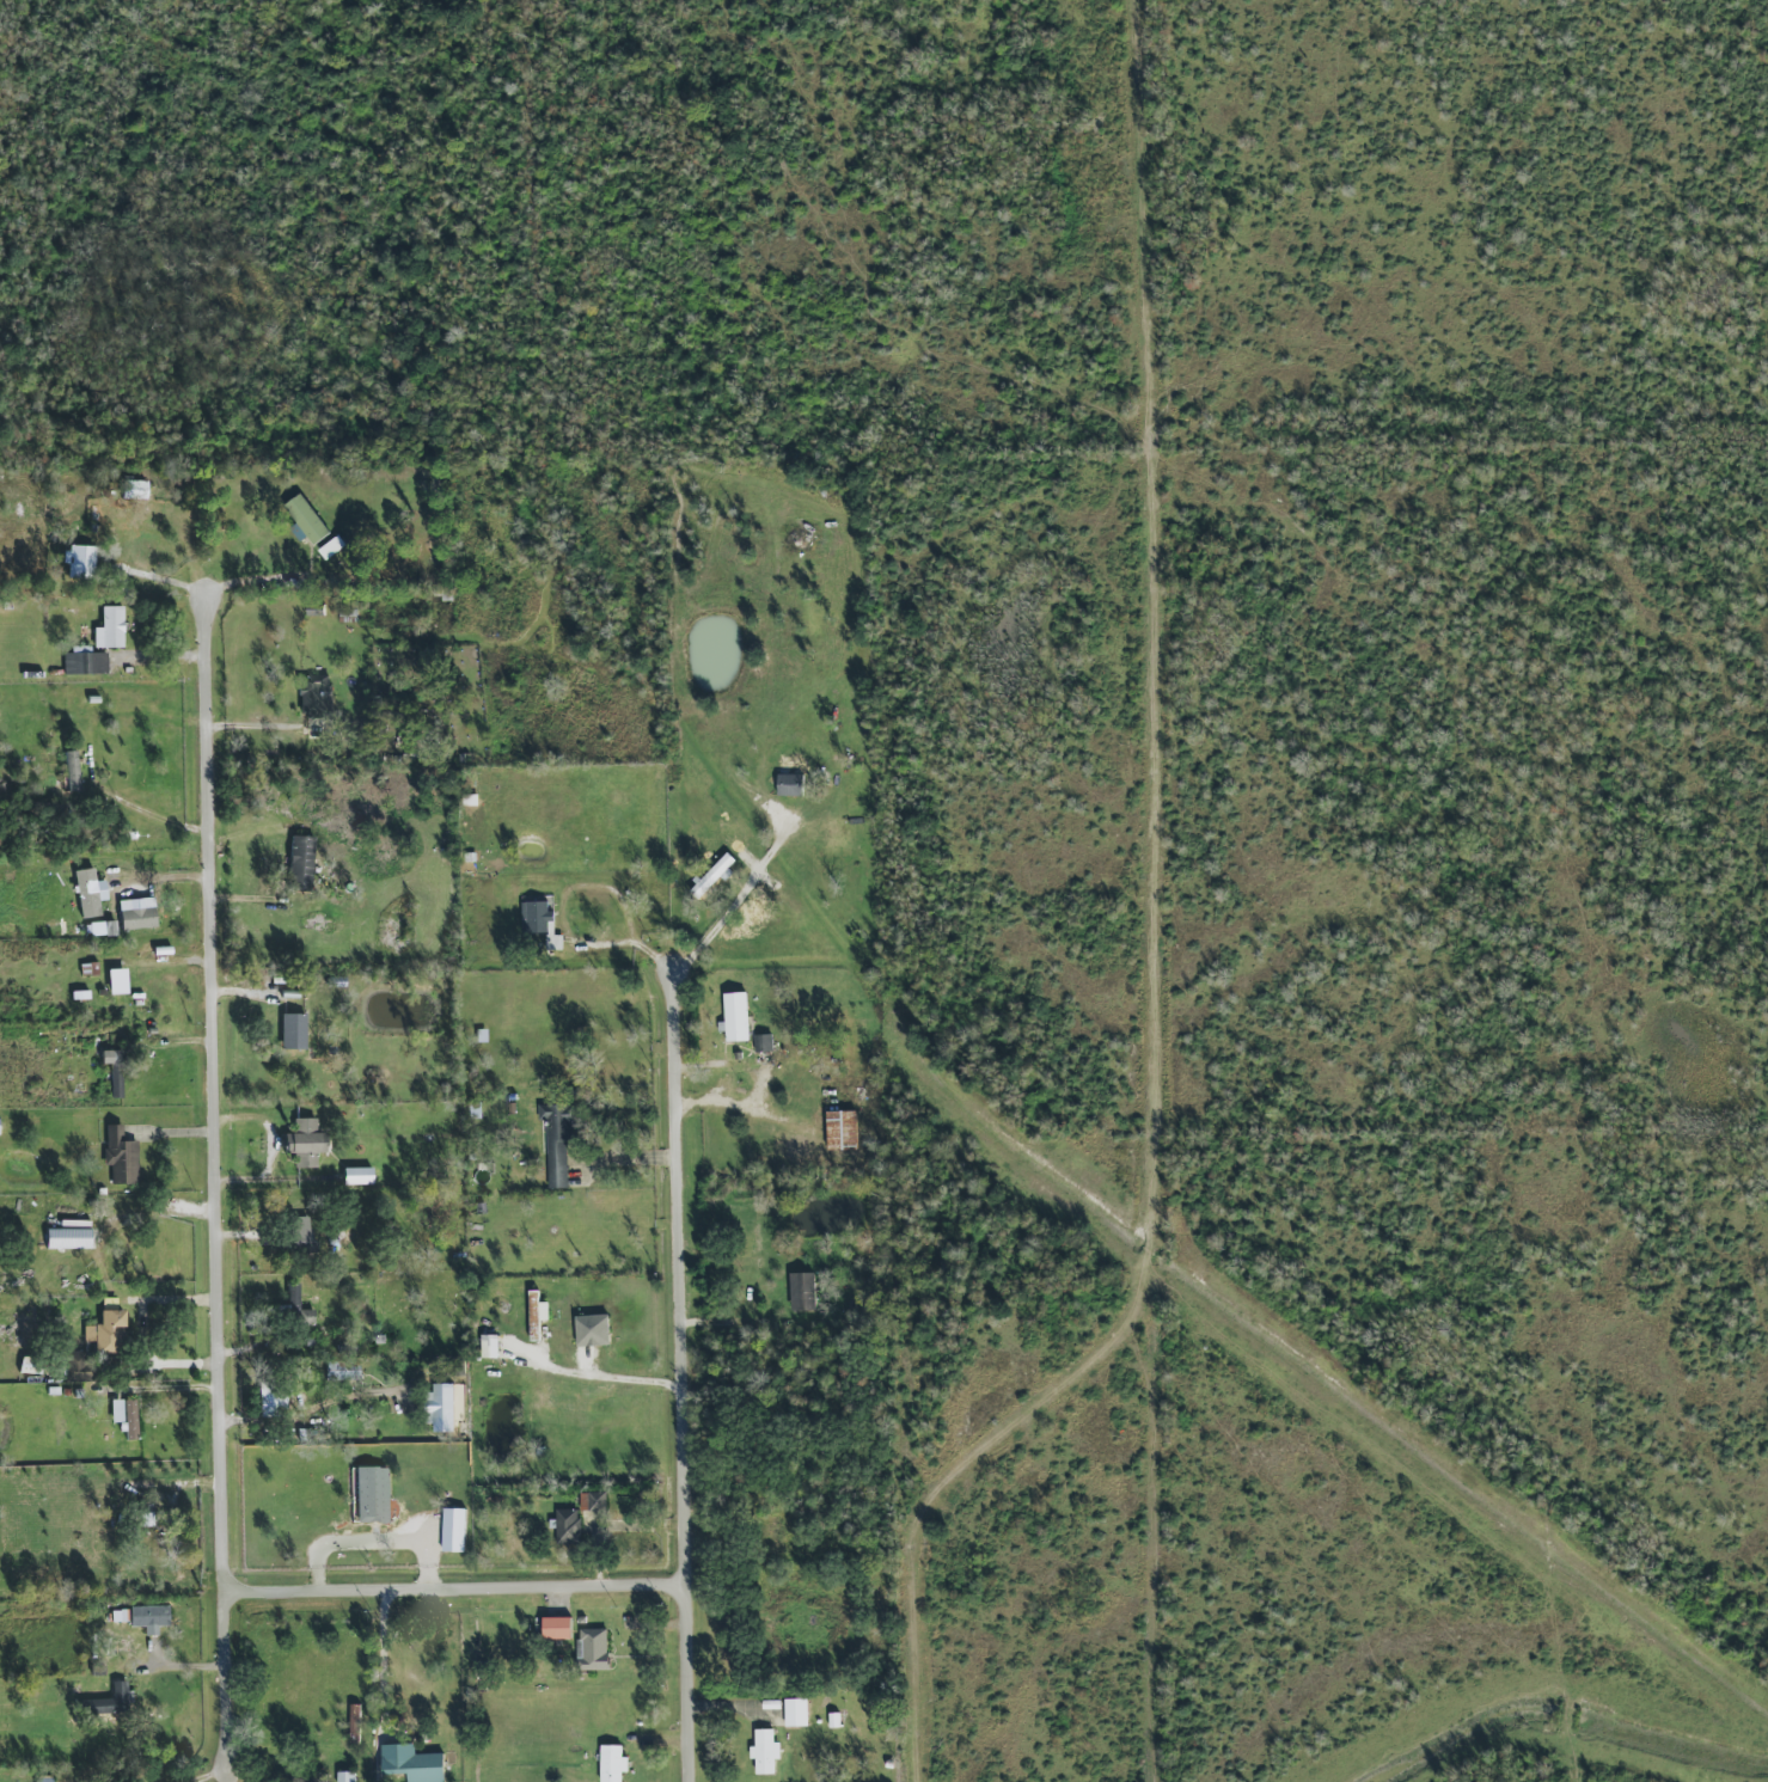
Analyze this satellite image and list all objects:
building: (131, 489)
building: (304, 520)
building: (331, 547)
building: (79, 561)
building: (109, 627)
building: (84, 661)
building: (314, 696)
road: (259, 724)
building: (71, 770)
building: (789, 784)
building: (298, 862)
building: (714, 876)
building: (87, 892)
road: (739, 907)
building: (135, 912)
building: (109, 927)
road: (1163, 942)
building: (115, 980)
building: (735, 1017)
building: (292, 1030)
building: (763, 1043)
building: (112, 1071)
building: (840, 1131)
building: (304, 1143)
building: (556, 1143)
building: (118, 1156)
building: (356, 1175)
road: (219, 1187)
building: (301, 1230)
building: (66, 1236)
building: (801, 1292)
building: (536, 1313)
building: (105, 1331)
building: (592, 1331)
building: (488, 1346)
building: (77, 1367)
road: (685, 1378)
building: (271, 1403)
building: (442, 1408)
building: (123, 1415)
building: (369, 1494)
building: (592, 1502)
building: (567, 1527)
building: (451, 1530)
road: (458, 1592)
building: (148, 1616)
building: (556, 1628)
building: (120, 1648)
building: (593, 1649)
road: (390, 1667)
building: (112, 1700)
building: (795, 1713)
building: (354, 1725)
building: (764, 1752)
building: (411, 1764)
building: (611, 1764)

